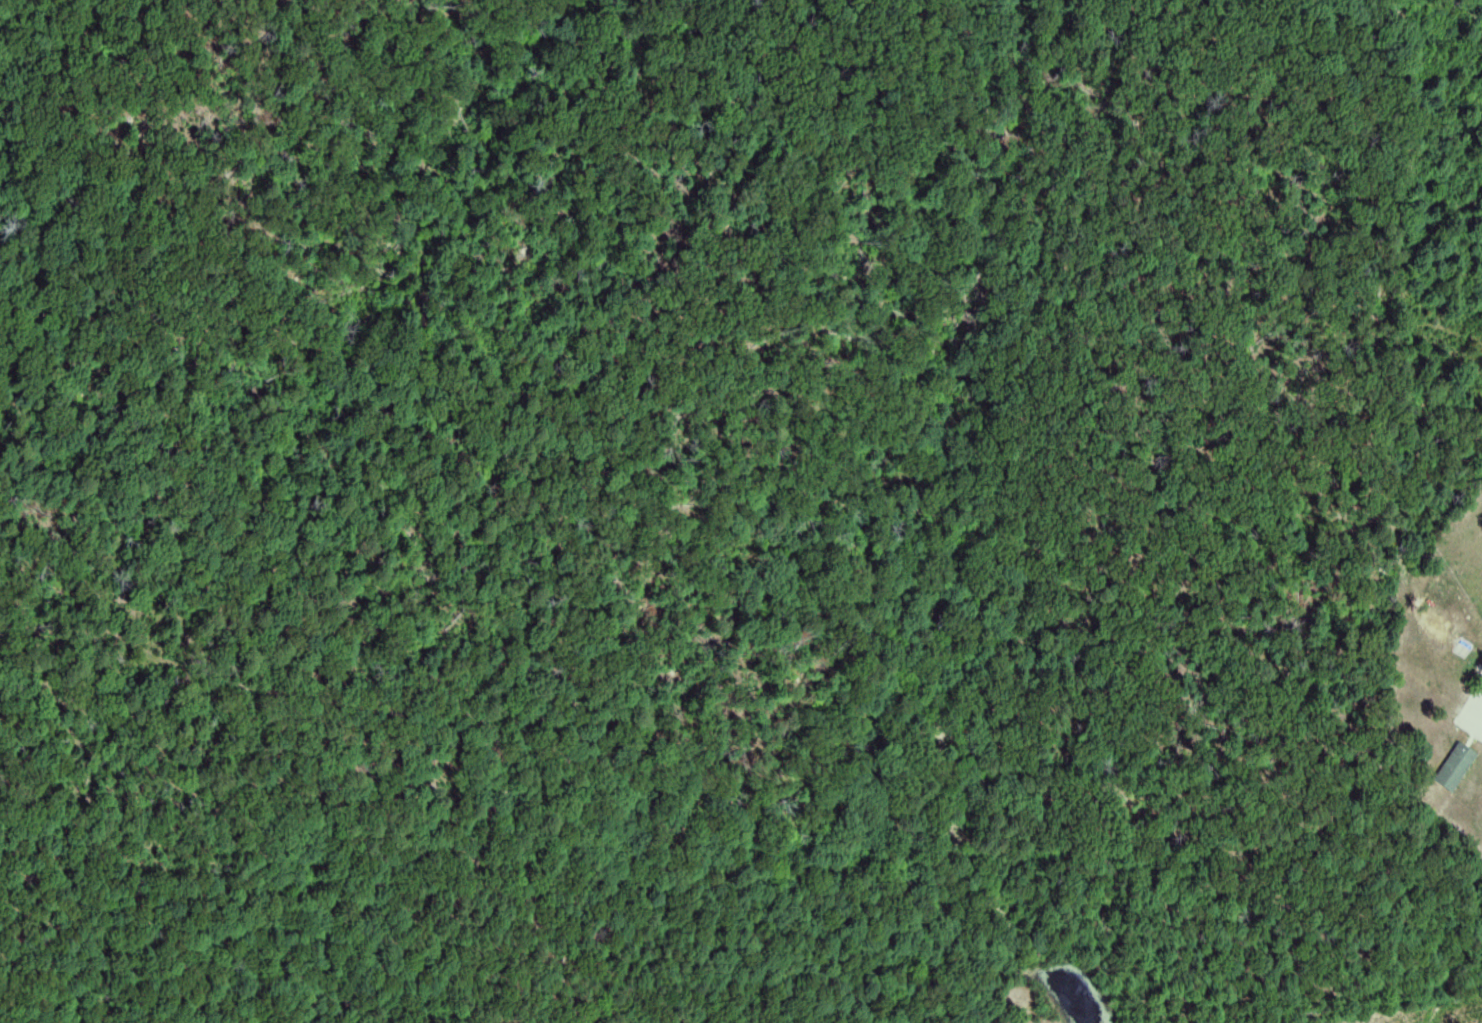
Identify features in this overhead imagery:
building: (1459, 766)

